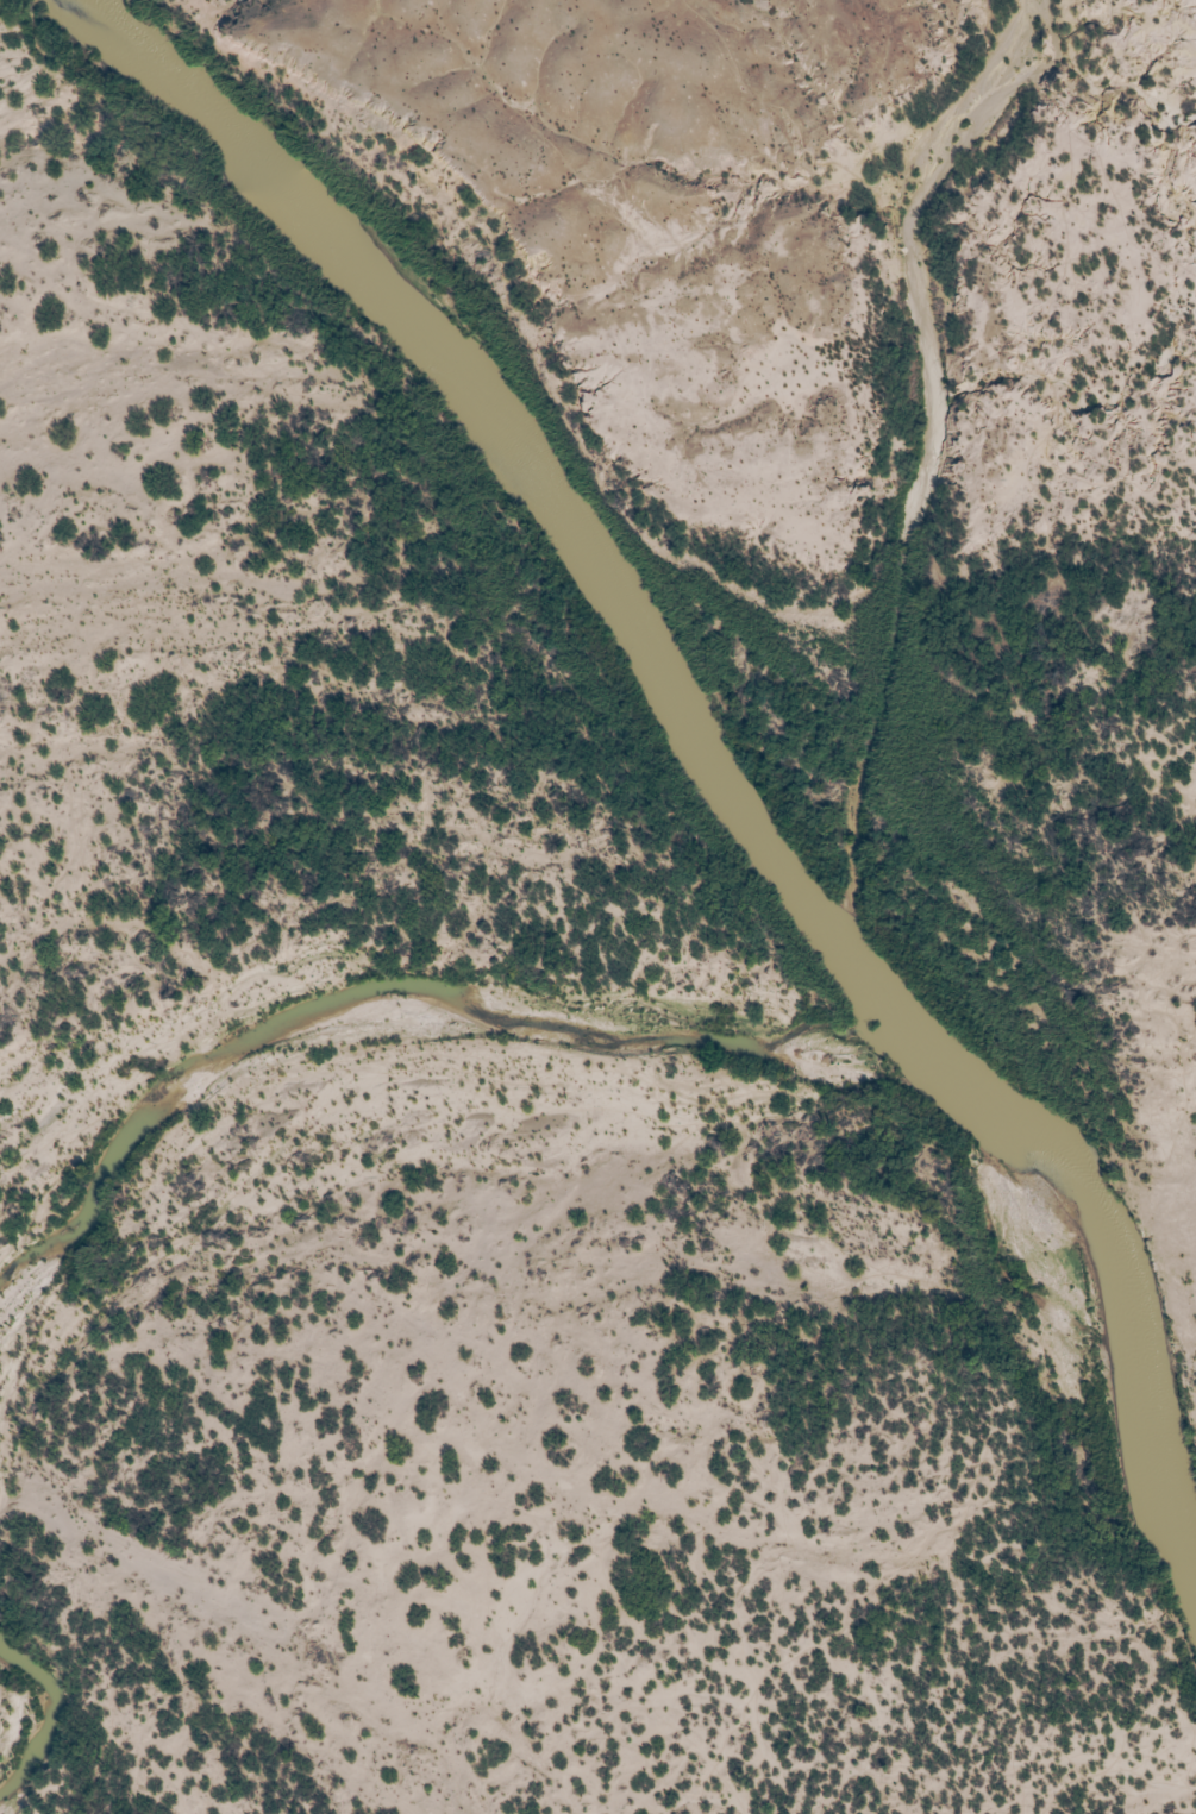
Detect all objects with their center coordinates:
river: (702, 734)

